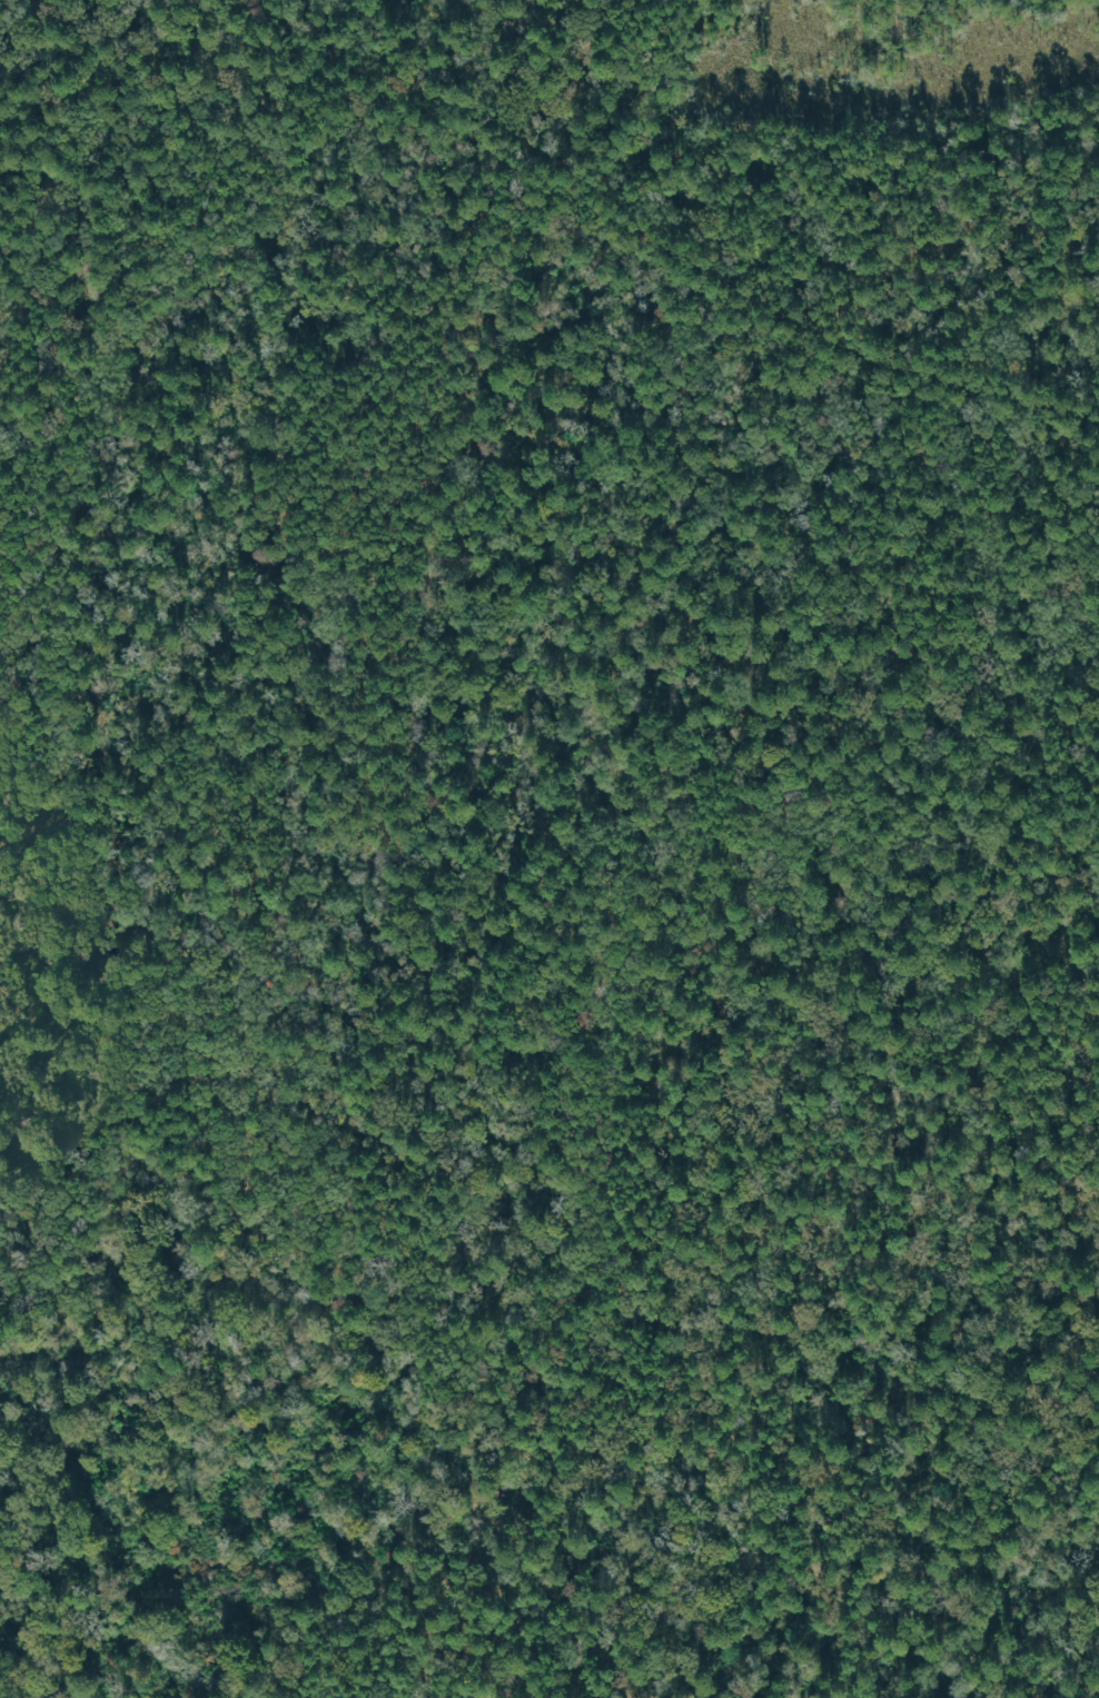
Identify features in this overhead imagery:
road: (549, 181)

